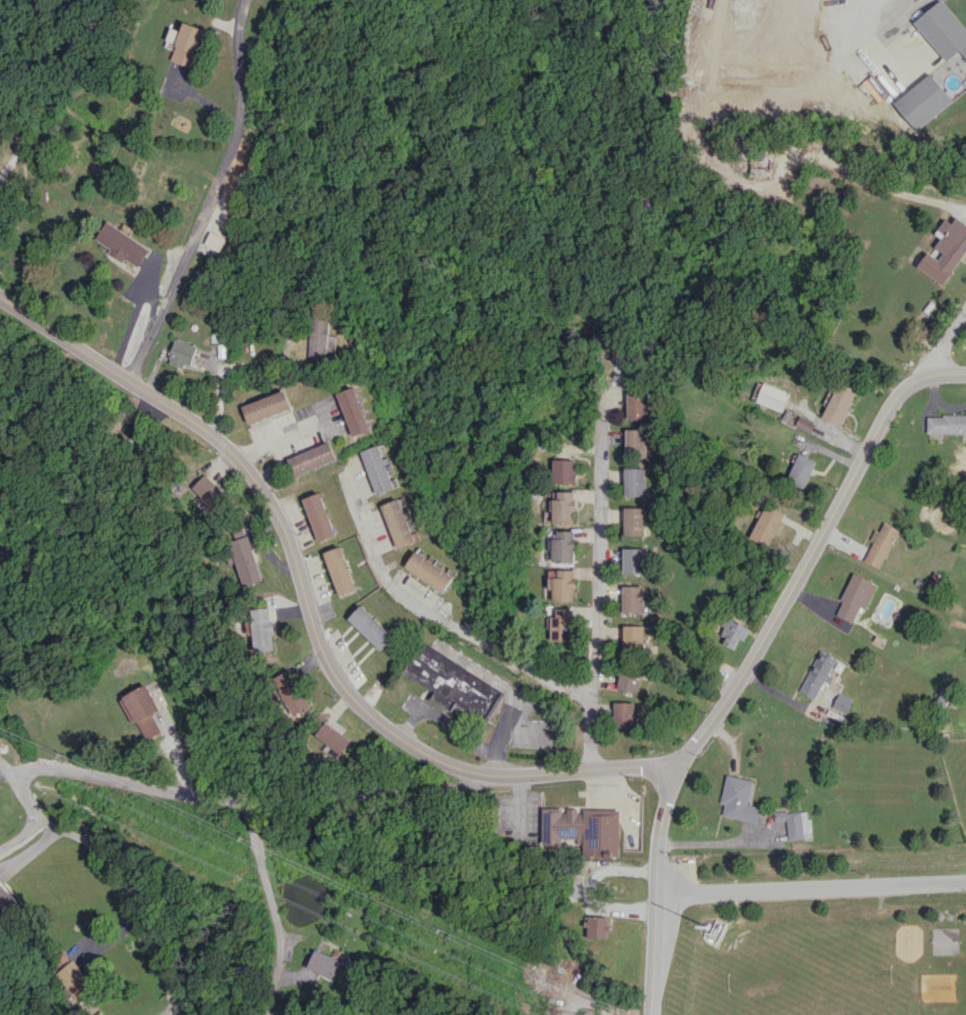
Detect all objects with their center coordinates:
road: (840, 24)
building: (942, 30)
building: (183, 43)
building: (759, 82)
building: (922, 101)
road: (15, 130)
road: (211, 197)
building: (216, 241)
building: (122, 244)
building: (945, 250)
building: (321, 334)
road: (944, 342)
building: (183, 353)
building: (771, 396)
building: (838, 403)
building: (634, 405)
building: (267, 406)
building: (355, 411)
building: (946, 423)
building: (803, 424)
road: (277, 439)
building: (634, 442)
building: (313, 458)
building: (377, 469)
building: (800, 470)
building: (562, 471)
building: (633, 481)
building: (562, 506)
building: (320, 516)
building: (632, 521)
building: (398, 522)
building: (765, 525)
building: (880, 544)
building: (562, 547)
building: (242, 556)
building: (631, 560)
building: (340, 570)
road: (599, 570)
building: (429, 571)
building: (560, 584)
building: (855, 596)
building: (630, 599)
road: (439, 618)
building: (561, 624)
building: (371, 627)
building: (261, 629)
building: (732, 632)
building: (631, 637)
building: (817, 674)
building: (627, 680)
building: (450, 682)
building: (291, 692)
building: (140, 710)
building: (621, 714)
building: (331, 737)
road: (477, 771)
road: (235, 798)
building: (738, 799)
building: (795, 823)
building: (581, 829)
road: (21, 835)
road: (112, 864)
road: (810, 886)
road: (654, 887)
building: (6, 897)
road: (274, 907)
building: (596, 927)
building: (320, 963)
building: (74, 978)

